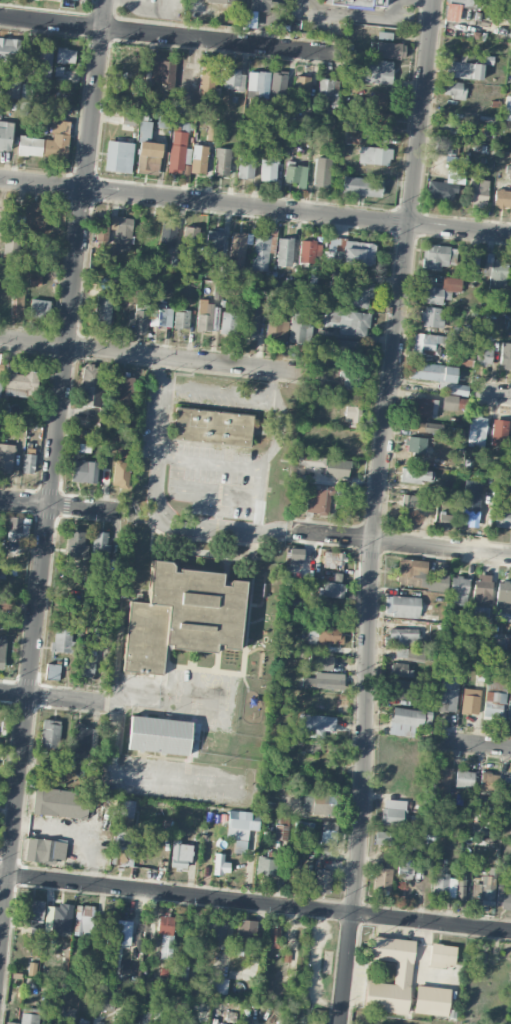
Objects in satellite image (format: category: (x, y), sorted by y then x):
building: (509, 0)
building: (234, 1)
building: (358, 3)
building: (463, 3)
building: (260, 5)
building: (451, 12)
road: (165, 34)
building: (510, 44)
building: (8, 49)
building: (390, 50)
building: (65, 55)
building: (42, 61)
building: (465, 69)
building: (375, 71)
road: (509, 71)
building: (163, 72)
building: (184, 78)
building: (233, 79)
building: (207, 80)
building: (258, 84)
building: (278, 85)
building: (11, 87)
building: (325, 87)
building: (453, 89)
building: (378, 100)
building: (507, 112)
building: (380, 119)
building: (145, 128)
building: (211, 131)
building: (5, 135)
building: (352, 136)
building: (57, 141)
building: (30, 146)
building: (178, 151)
building: (375, 155)
building: (118, 156)
building: (148, 157)
building: (198, 159)
building: (222, 161)
building: (246, 166)
building: (269, 166)
building: (322, 172)
building: (509, 173)
building: (295, 175)
building: (361, 187)
building: (441, 190)
building: (478, 190)
building: (502, 198)
road: (255, 206)
building: (34, 217)
building: (121, 233)
building: (167, 234)
building: (190, 238)
building: (11, 244)
building: (214, 246)
building: (35, 249)
building: (238, 249)
building: (309, 251)
building: (351, 251)
building: (285, 252)
building: (260, 253)
building: (435, 256)
building: (472, 264)
building: (168, 269)
building: (495, 271)
building: (510, 273)
building: (35, 279)
building: (440, 291)
building: (359, 293)
building: (17, 303)
building: (39, 308)
building: (104, 308)
building: (160, 315)
building: (207, 316)
building: (431, 317)
building: (252, 318)
building: (181, 319)
building: (140, 322)
building: (228, 322)
building: (301, 325)
building: (278, 326)
building: (427, 343)
road: (154, 354)
building: (483, 355)
building: (505, 355)
building: (432, 372)
building: (0, 378)
building: (352, 380)
building: (19, 381)
building: (90, 384)
building: (455, 388)
road: (217, 390)
building: (124, 392)
road: (493, 394)
building: (449, 402)
building: (422, 407)
building: (351, 415)
building: (212, 426)
building: (427, 427)
building: (476, 430)
building: (499, 432)
building: (416, 445)
building: (81, 448)
building: (6, 457)
road: (210, 462)
building: (28, 463)
building: (326, 465)
building: (83, 471)
building: (120, 473)
building: (417, 475)
road: (52, 481)
building: (317, 500)
building: (415, 503)
road: (63, 505)
building: (469, 510)
road: (377, 511)
building: (502, 516)
building: (446, 519)
building: (17, 527)
road: (209, 529)
building: (100, 542)
road: (401, 542)
building: (75, 543)
building: (295, 556)
building: (331, 559)
building: (418, 575)
building: (482, 589)
building: (333, 590)
building: (459, 590)
building: (503, 601)
building: (402, 606)
building: (182, 616)
building: (324, 636)
building: (401, 637)
building: (61, 640)
building: (2, 653)
building: (415, 655)
building: (458, 655)
building: (88, 662)
building: (321, 662)
building: (401, 670)
building: (52, 671)
building: (323, 681)
building: (496, 684)
building: (404, 690)
road: (128, 692)
building: (448, 693)
road: (54, 697)
building: (470, 701)
building: (494, 705)
building: (508, 710)
building: (405, 721)
building: (314, 725)
road: (116, 726)
building: (50, 733)
building: (159, 734)
building: (82, 739)
road: (476, 744)
building: (51, 767)
road: (159, 778)
building: (464, 778)
building: (442, 779)
building: (488, 782)
building: (506, 786)
building: (60, 803)
building: (319, 803)
building: (127, 808)
building: (393, 812)
building: (239, 825)
building: (281, 829)
building: (303, 829)
building: (327, 837)
building: (383, 838)
building: (240, 846)
building: (123, 848)
building: (45, 850)
building: (180, 855)
building: (220, 864)
building: (404, 864)
building: (265, 867)
building: (301, 869)
building: (382, 879)
building: (322, 881)
building: (444, 886)
building: (460, 889)
building: (485, 889)
building: (503, 896)
road: (255, 902)
building: (35, 909)
building: (61, 918)
building: (83, 920)
building: (35, 923)
building: (165, 927)
building: (246, 931)
building: (123, 932)
building: (215, 932)
building: (274, 936)
building: (442, 955)
building: (181, 971)
building: (402, 971)
building: (217, 986)
building: (104, 997)
building: (431, 1000)
building: (55, 1014)
building: (145, 1015)
building: (28, 1018)
building: (82, 1021)
building: (315, 1022)
building: (12, 1023)

